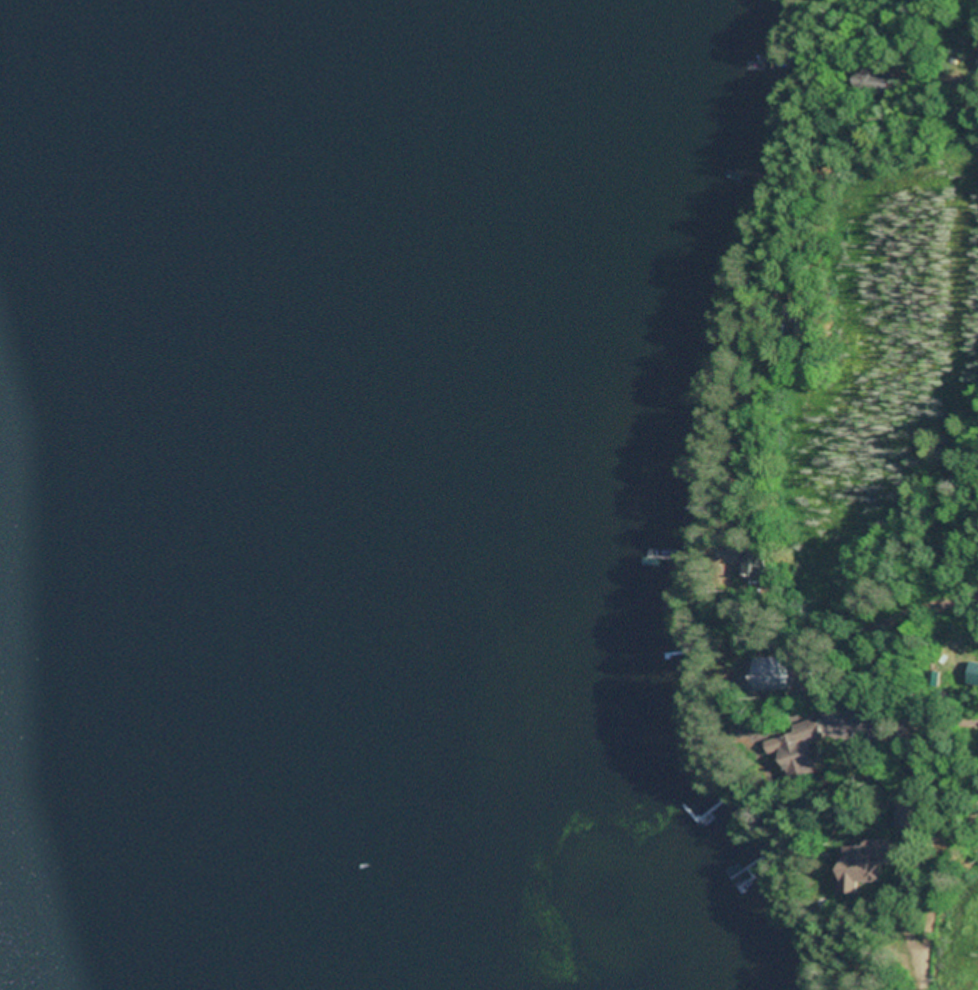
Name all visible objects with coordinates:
building: (753, 564)
building: (971, 678)
building: (793, 748)
building: (904, 816)
building: (860, 863)
road: (932, 890)

